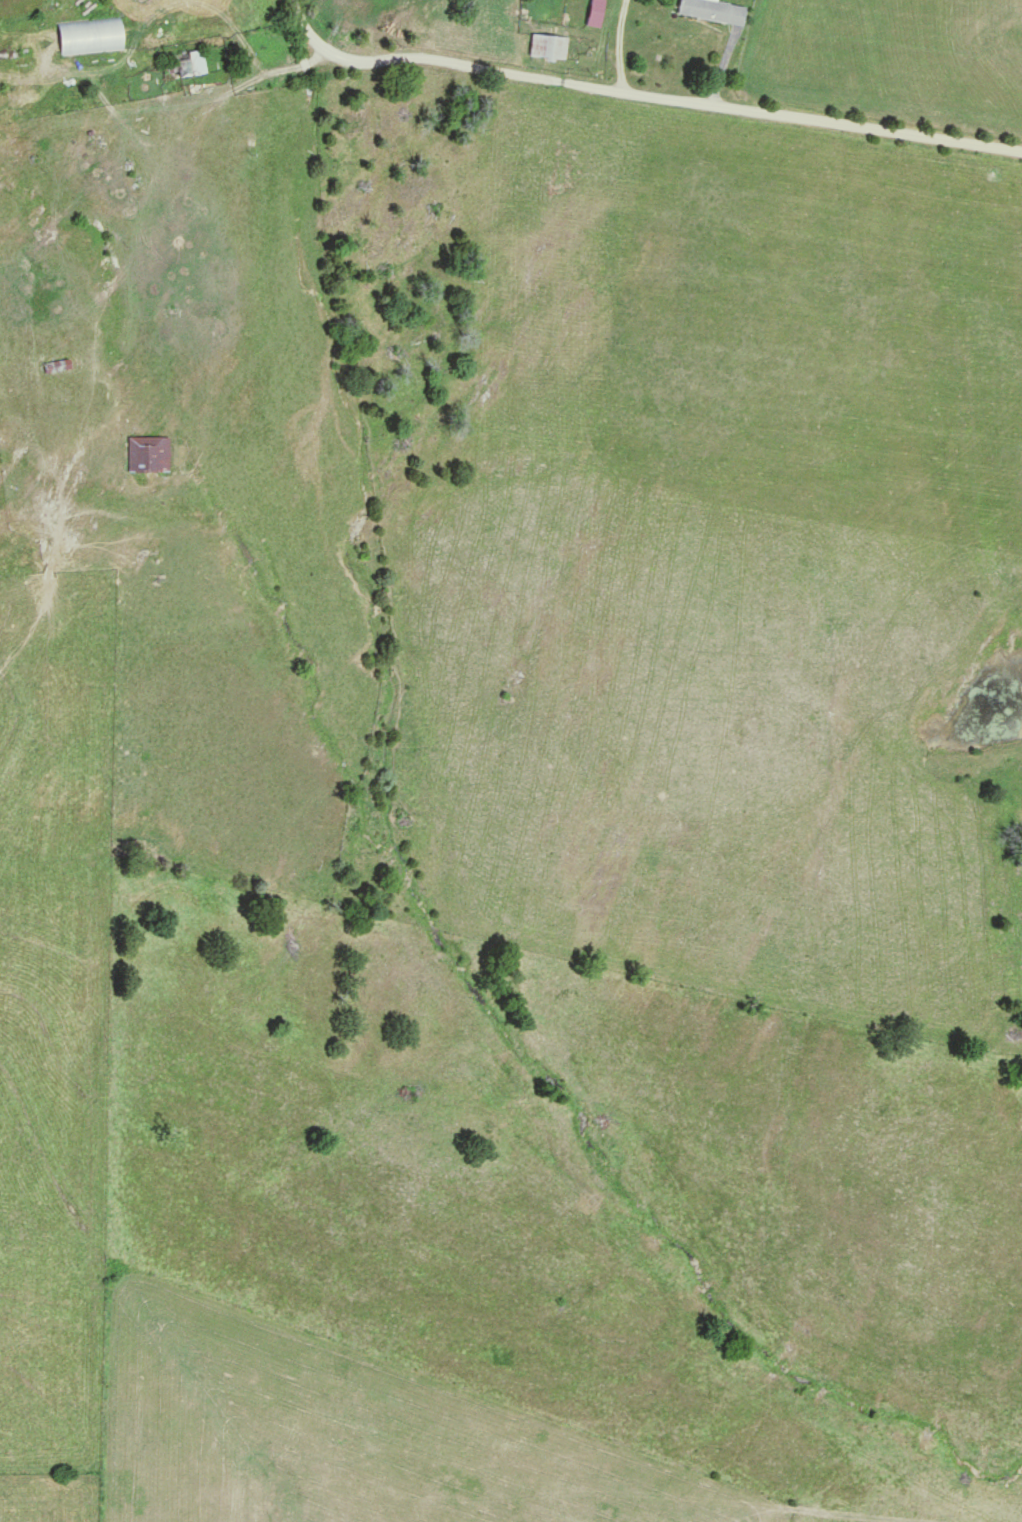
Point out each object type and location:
building: (712, 10)
building: (594, 13)
building: (90, 37)
building: (548, 46)
building: (189, 63)
road: (640, 102)
building: (56, 365)
building: (148, 454)

